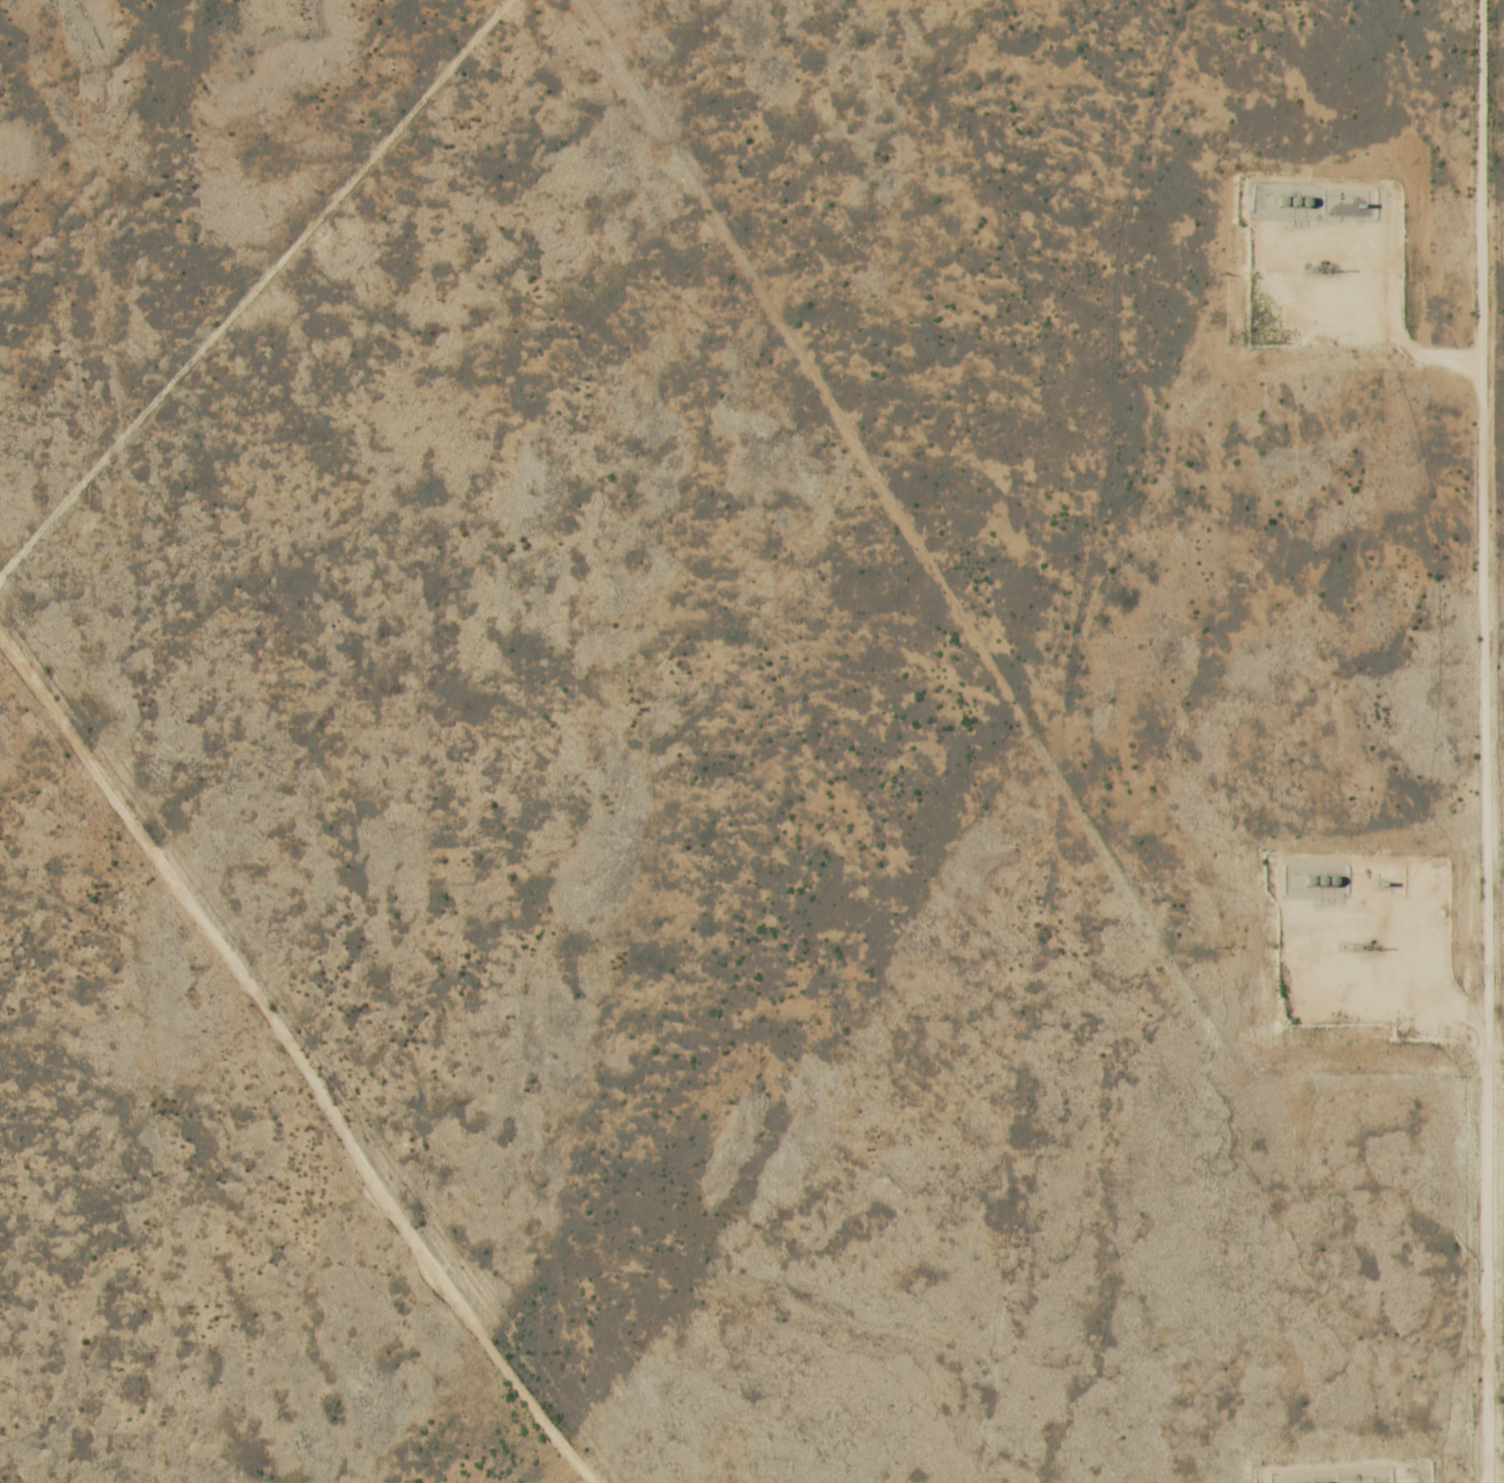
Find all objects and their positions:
power tower: (1503, 95)
petroleum well: (1323, 268)
road: (257, 284)
road: (1479, 741)
petroleum well: (1366, 946)
road: (1379, 961)
road: (292, 1061)

